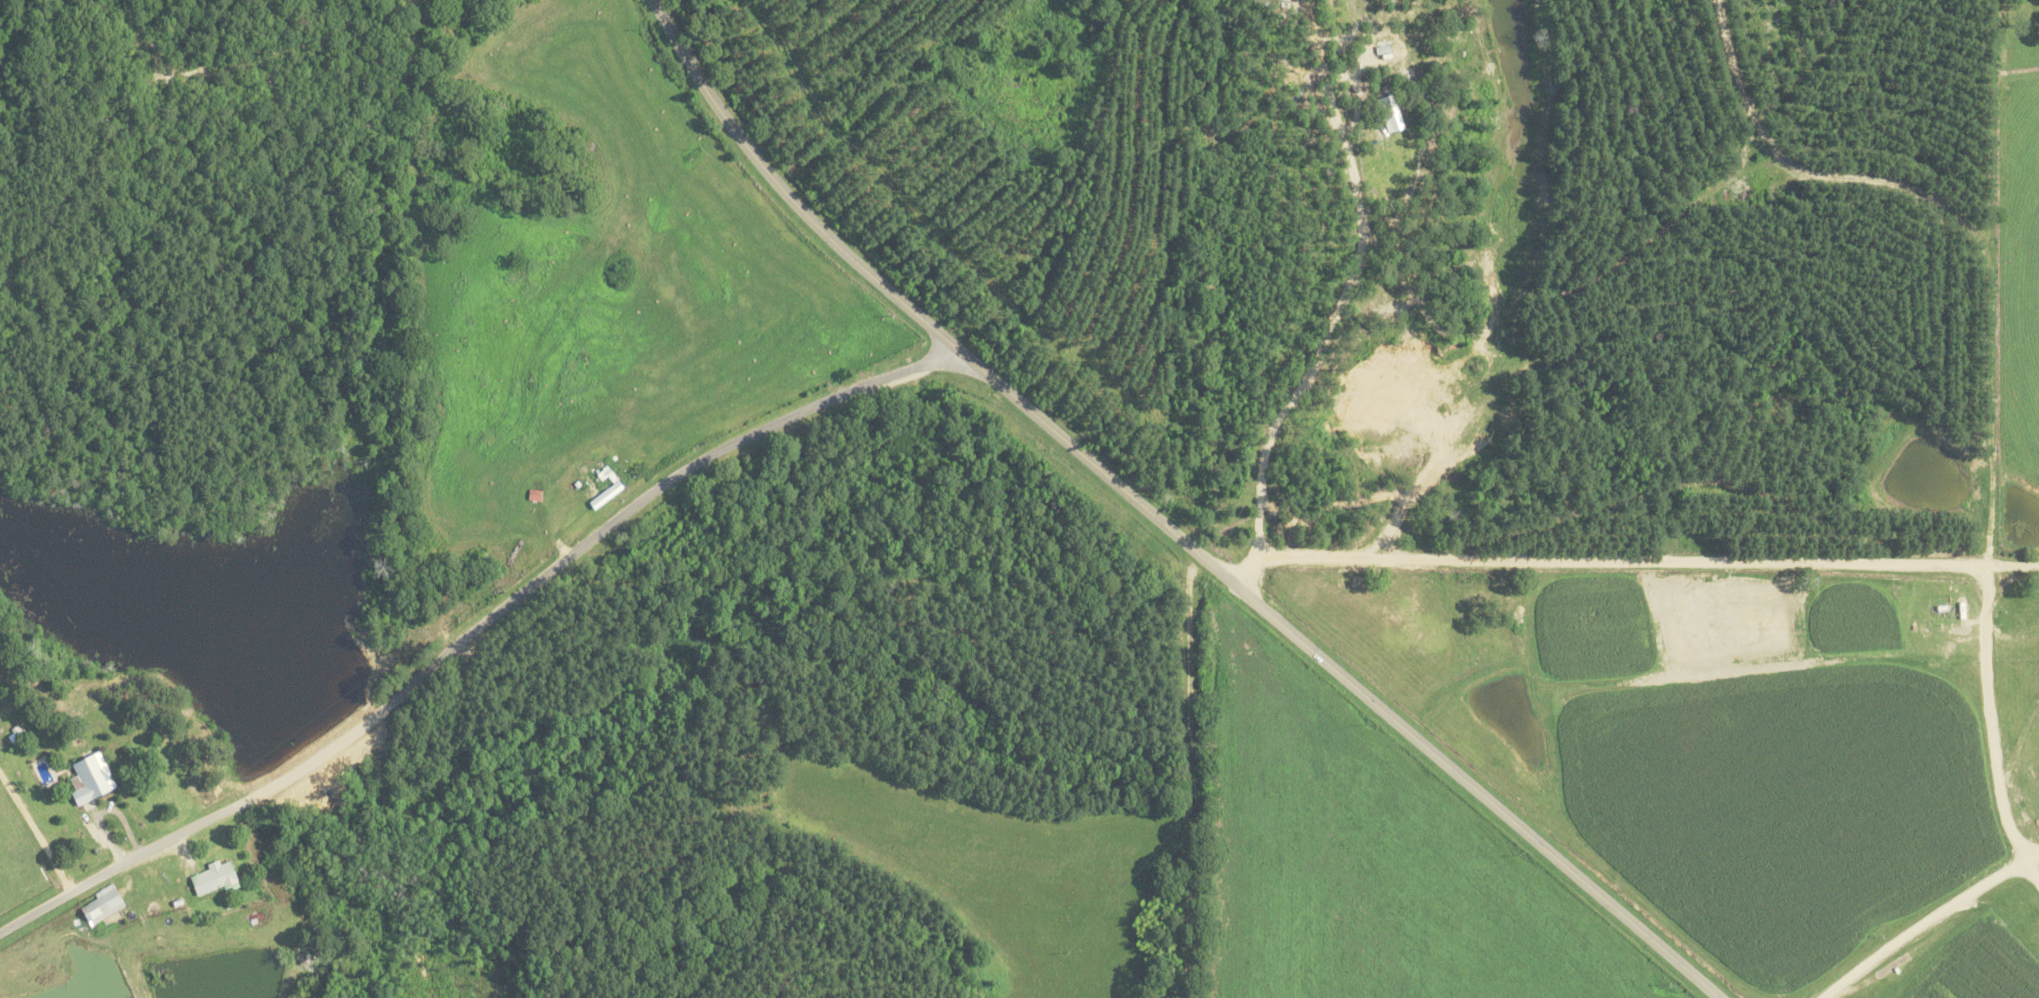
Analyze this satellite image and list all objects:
building: (1388, 113)
building: (604, 490)
road: (1160, 522)
road: (1632, 562)
road: (474, 633)
road: (1992, 724)
building: (88, 778)
building: (212, 878)
building: (98, 905)
road: (1928, 921)

